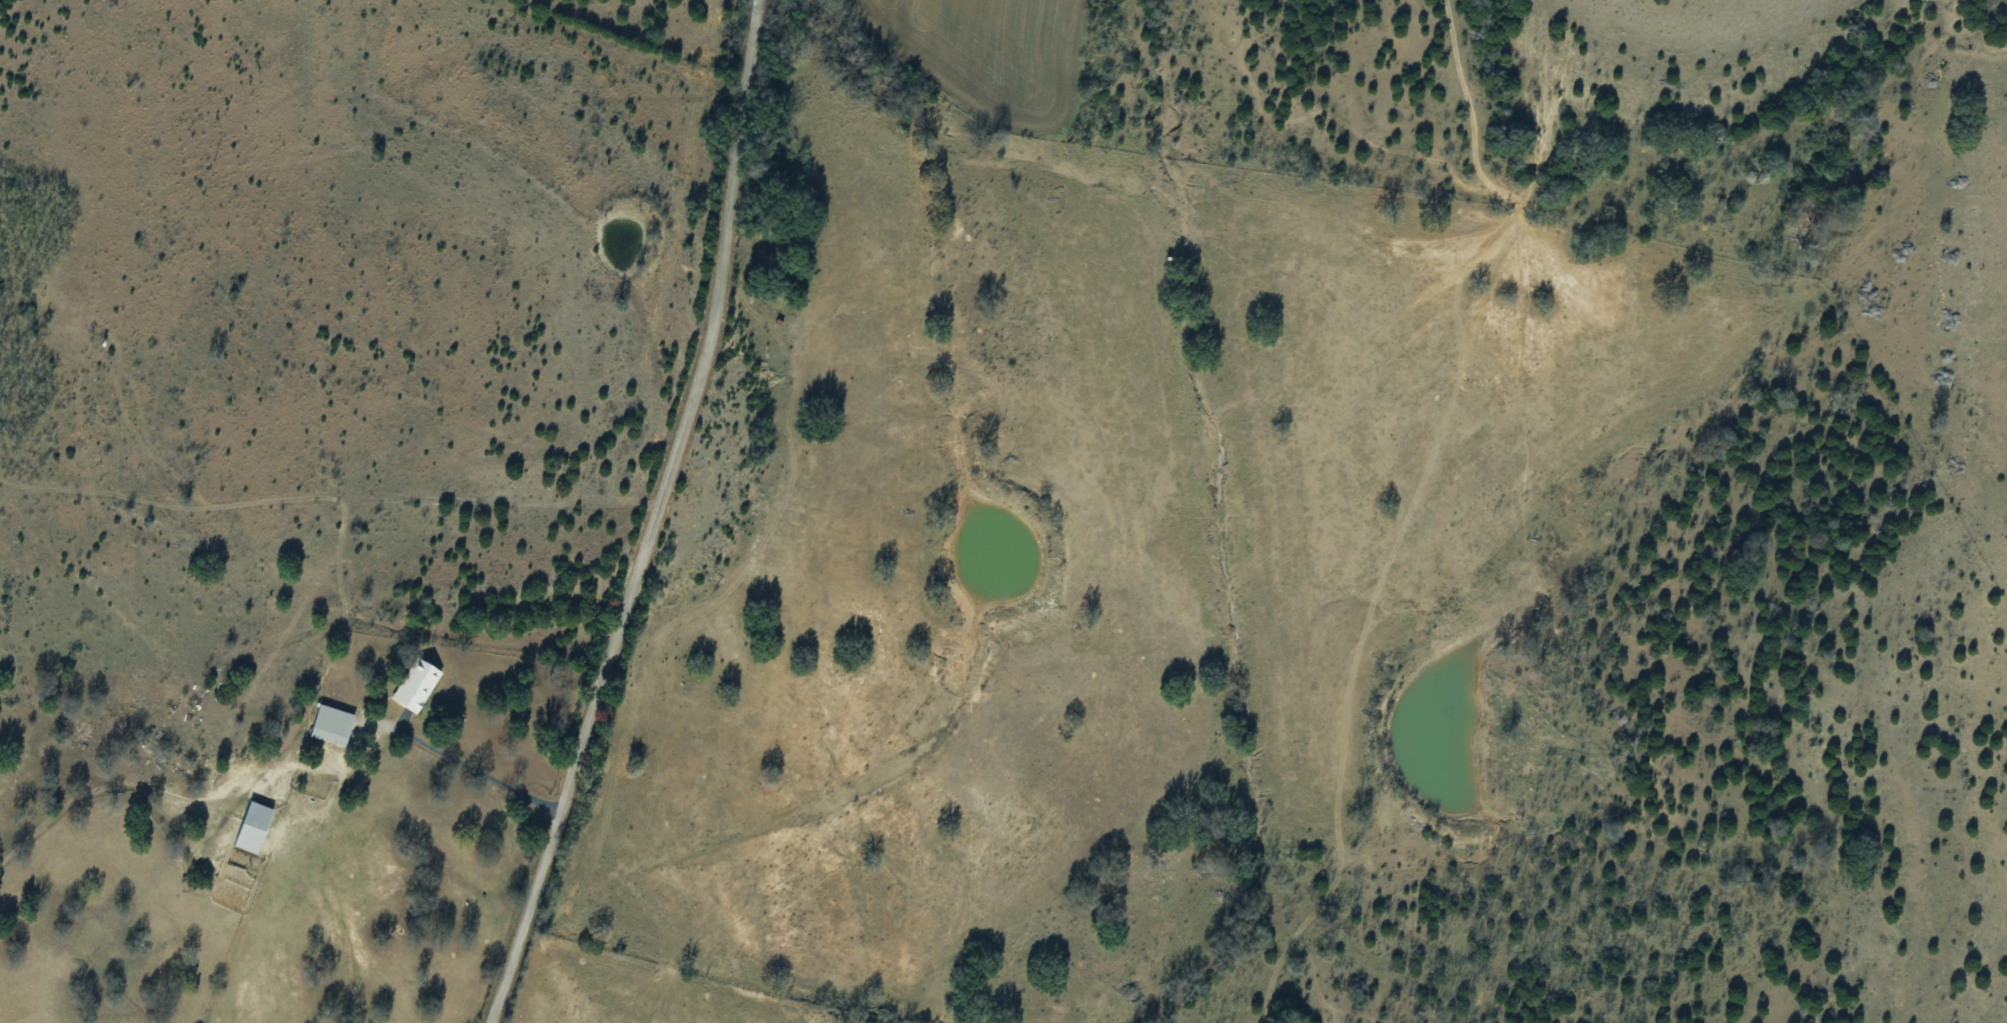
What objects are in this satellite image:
road: (690, 519)
road: (329, 521)
building: (414, 684)
building: (329, 724)
building: (251, 827)

